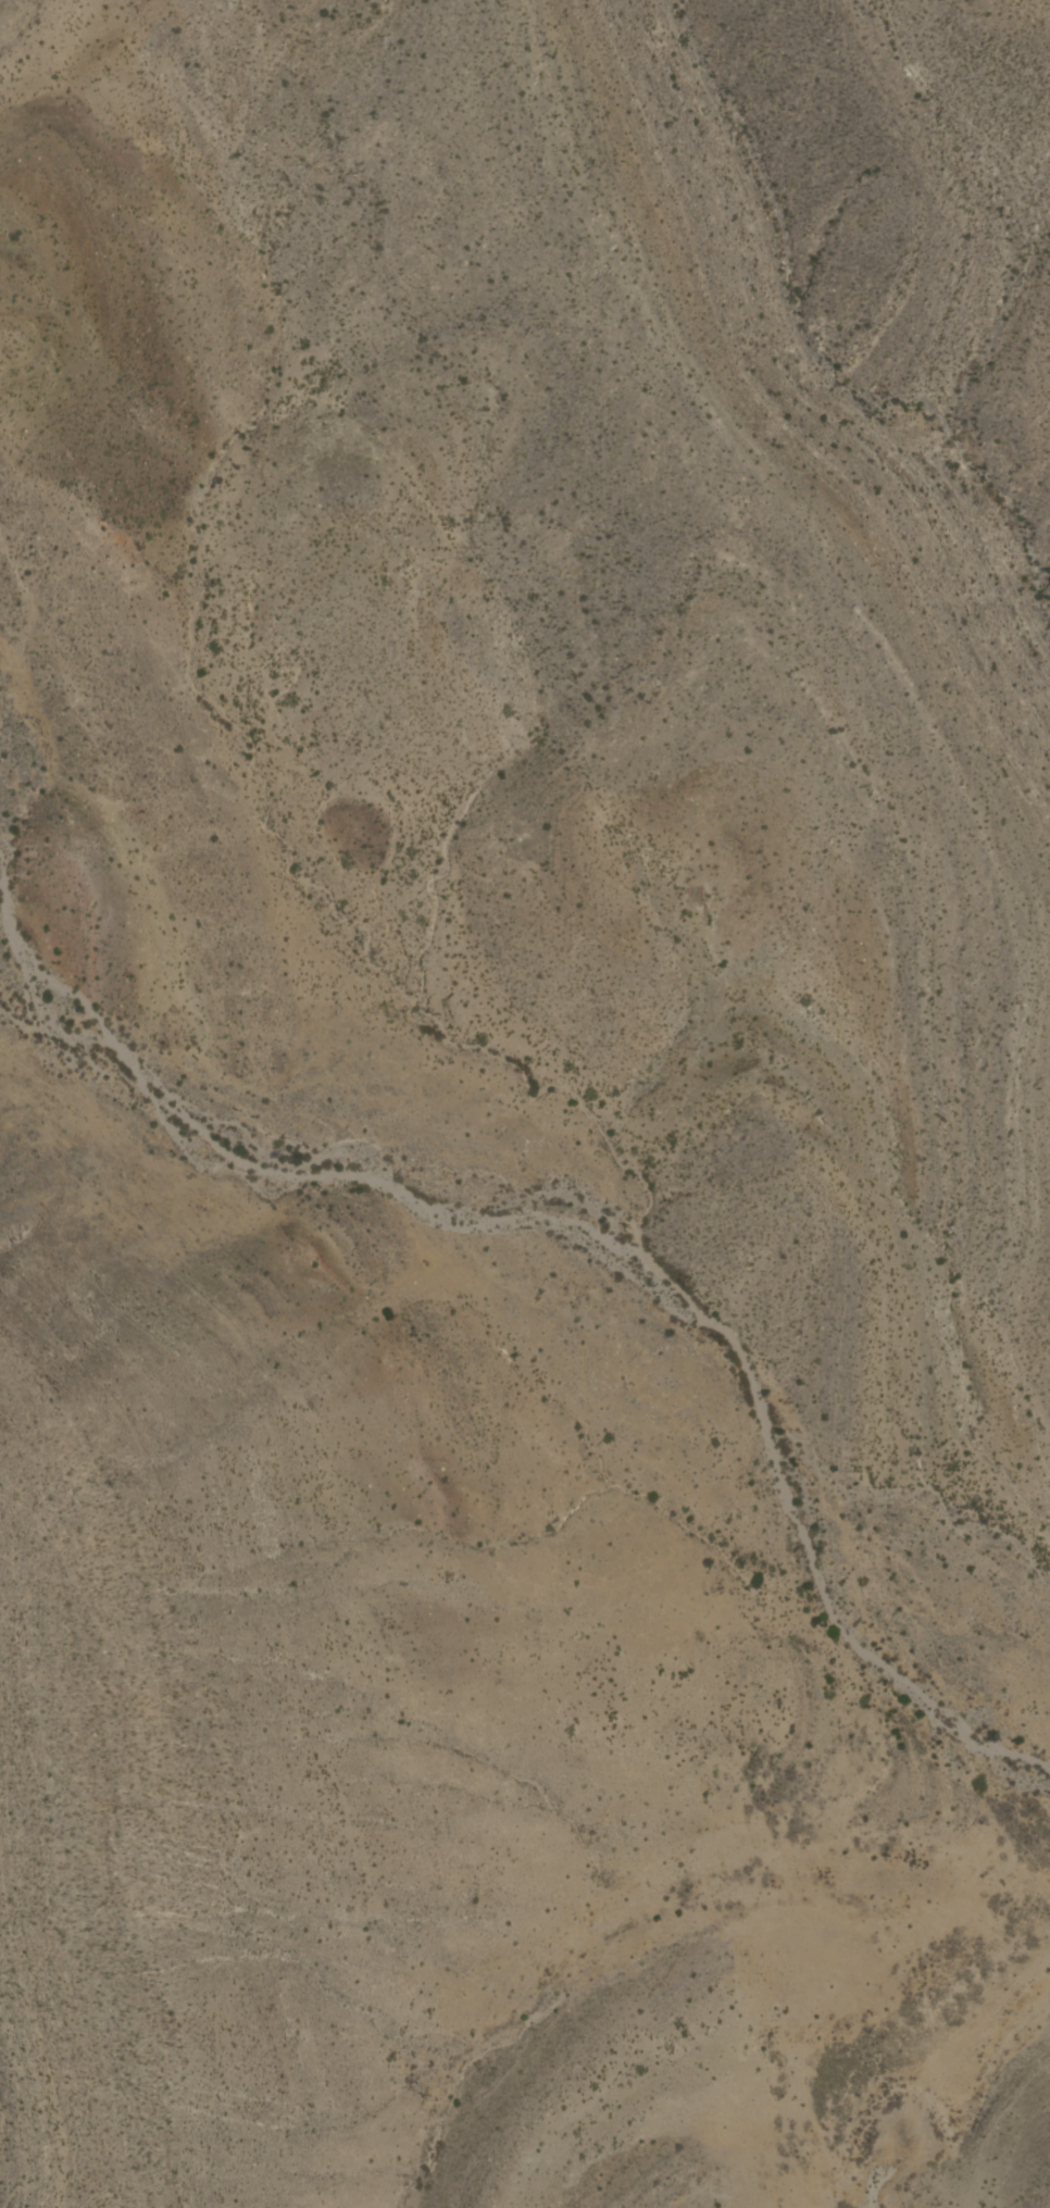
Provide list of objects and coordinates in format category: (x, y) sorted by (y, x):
dam: (930, 2105)

